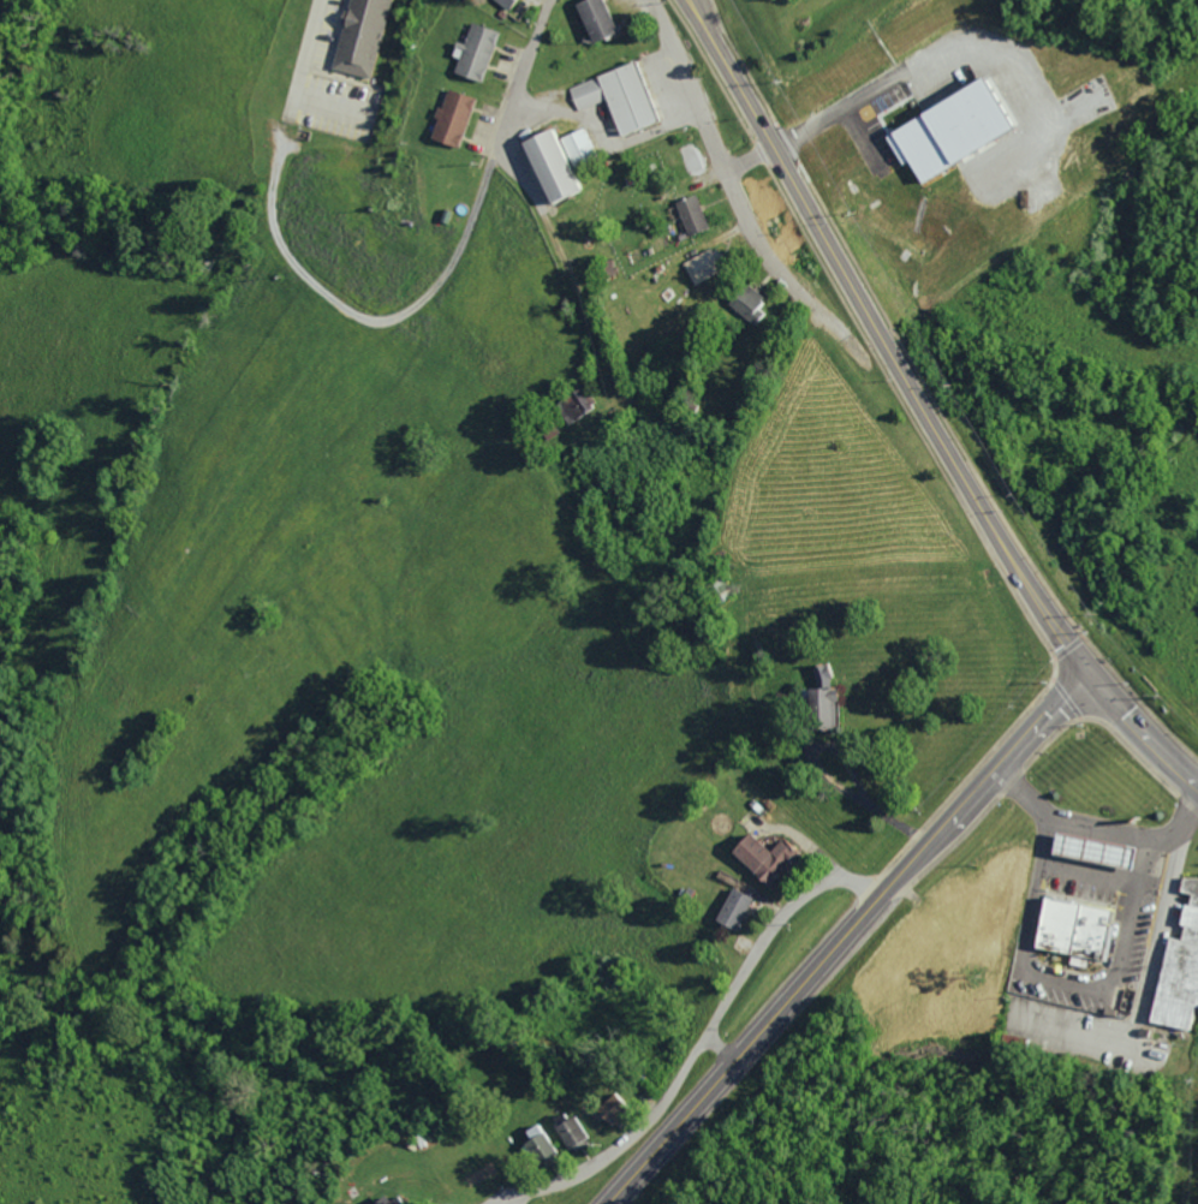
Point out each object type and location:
building: (507, 2)
building: (590, 18)
building: (362, 36)
building: (473, 52)
building: (621, 97)
building: (451, 118)
road: (746, 154)
building: (566, 160)
building: (543, 165)
road: (727, 178)
road: (503, 181)
building: (689, 215)
building: (702, 266)
building: (747, 304)
road: (364, 318)
road: (886, 341)
traffic signals: (1095, 678)
road: (1143, 734)
building: (1089, 851)
building: (758, 857)
building: (731, 910)
building: (1071, 929)
road: (845, 936)
building: (1176, 974)
road: (684, 1036)
building: (568, 1130)
building: (534, 1140)
building: (379, 1199)
road: (491, 1200)

